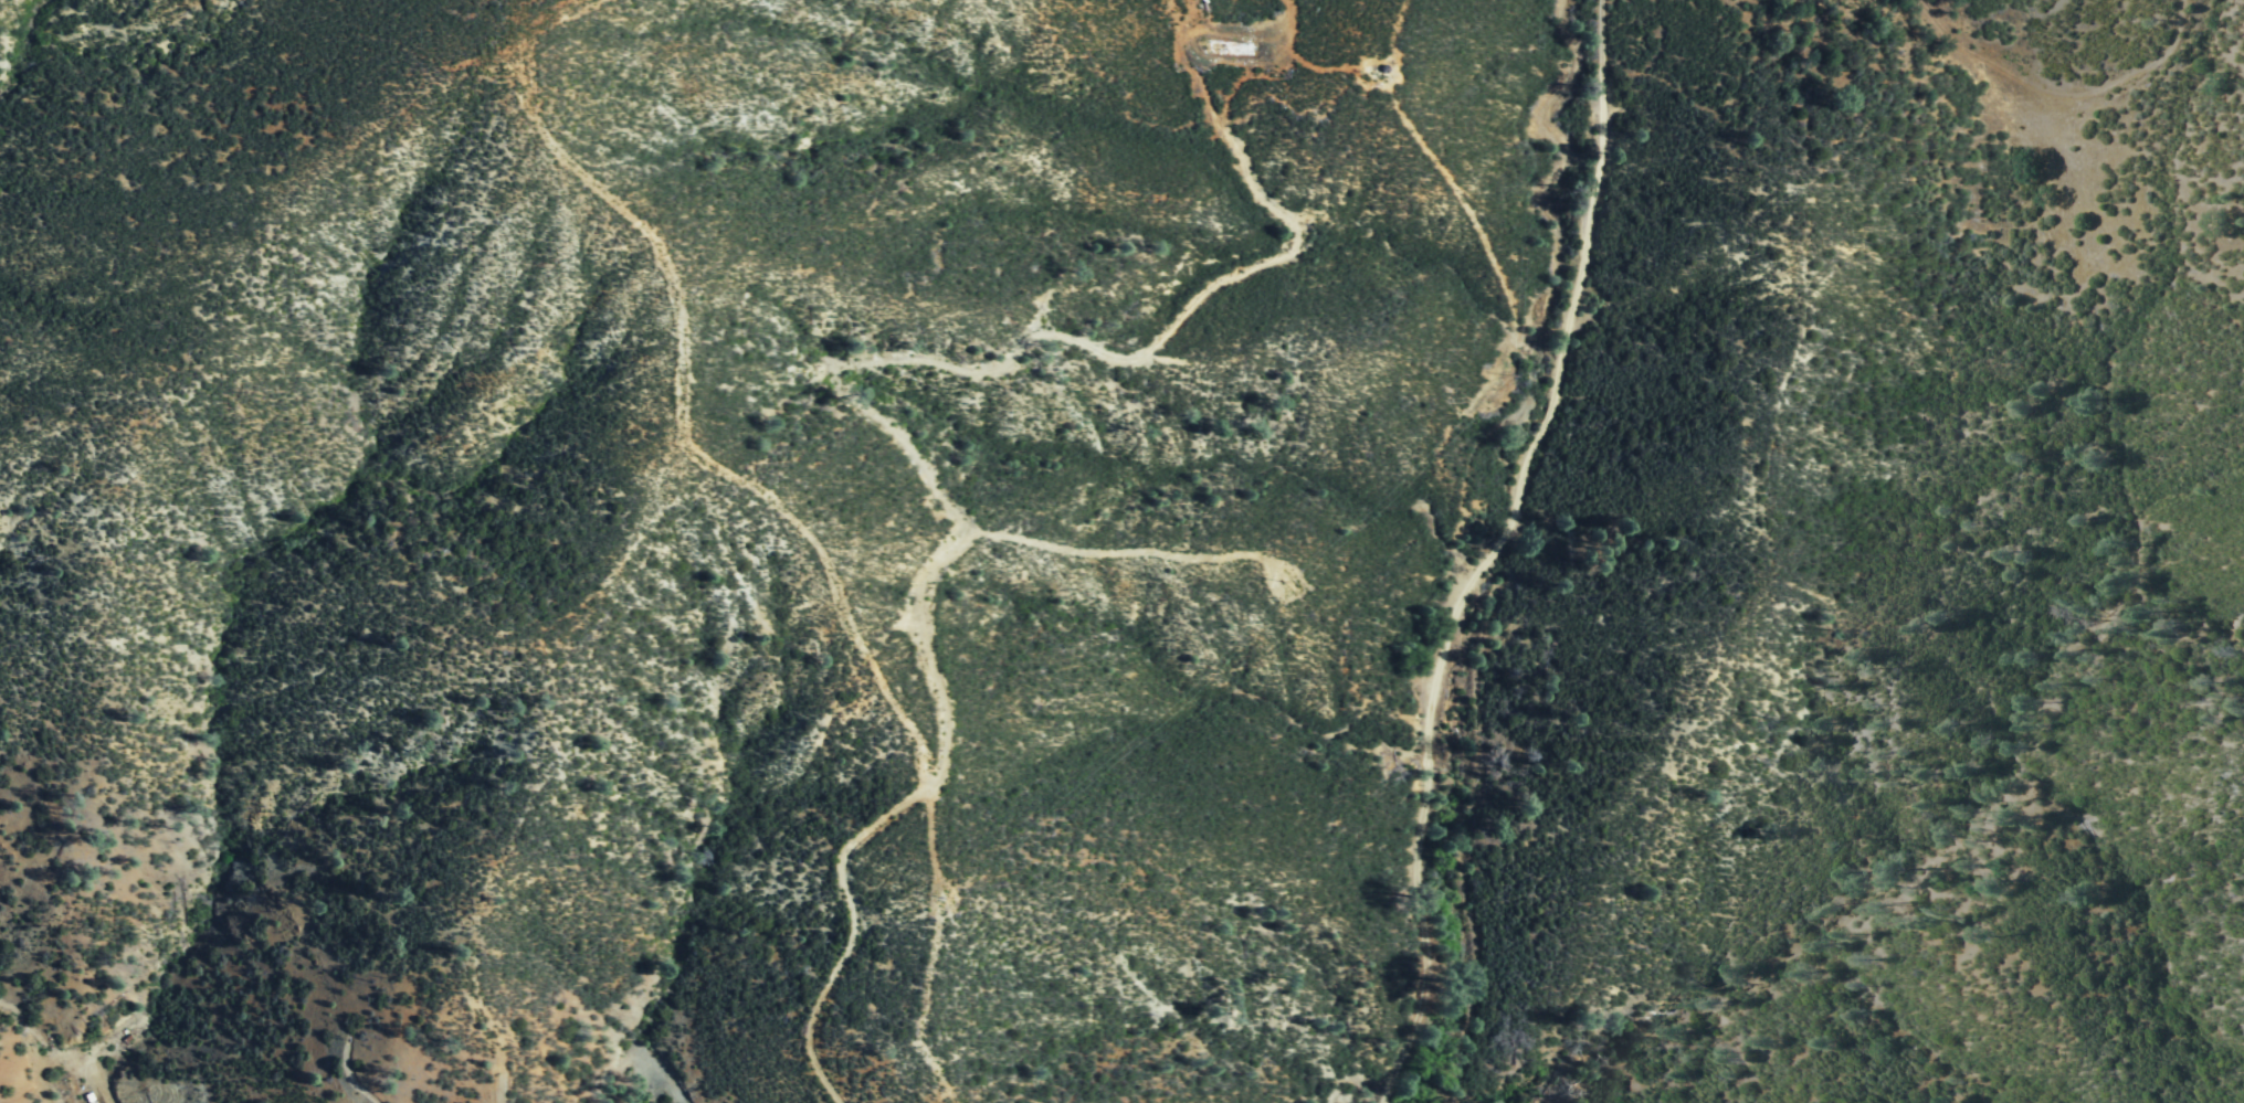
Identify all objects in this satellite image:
road: (1409, 841)

